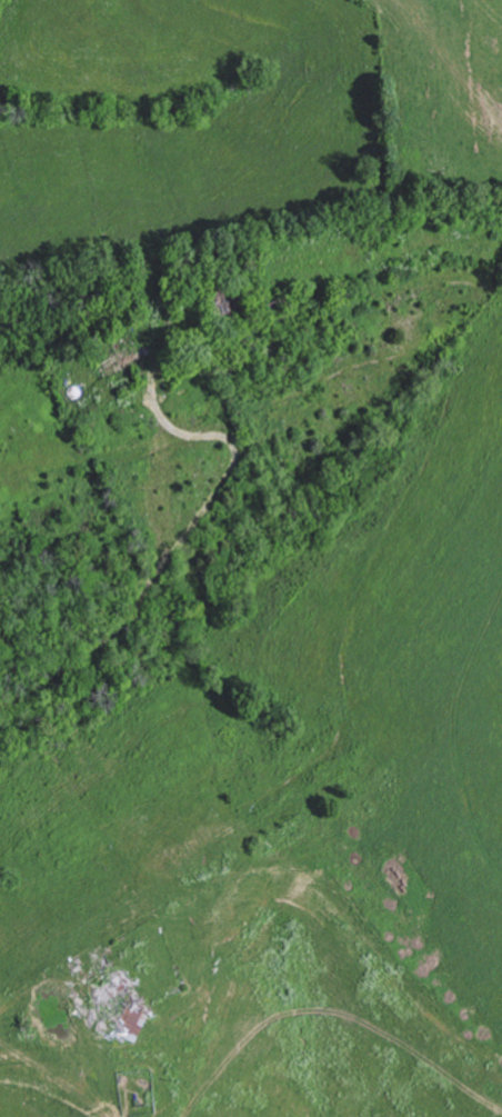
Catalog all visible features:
road: (219, 692)

